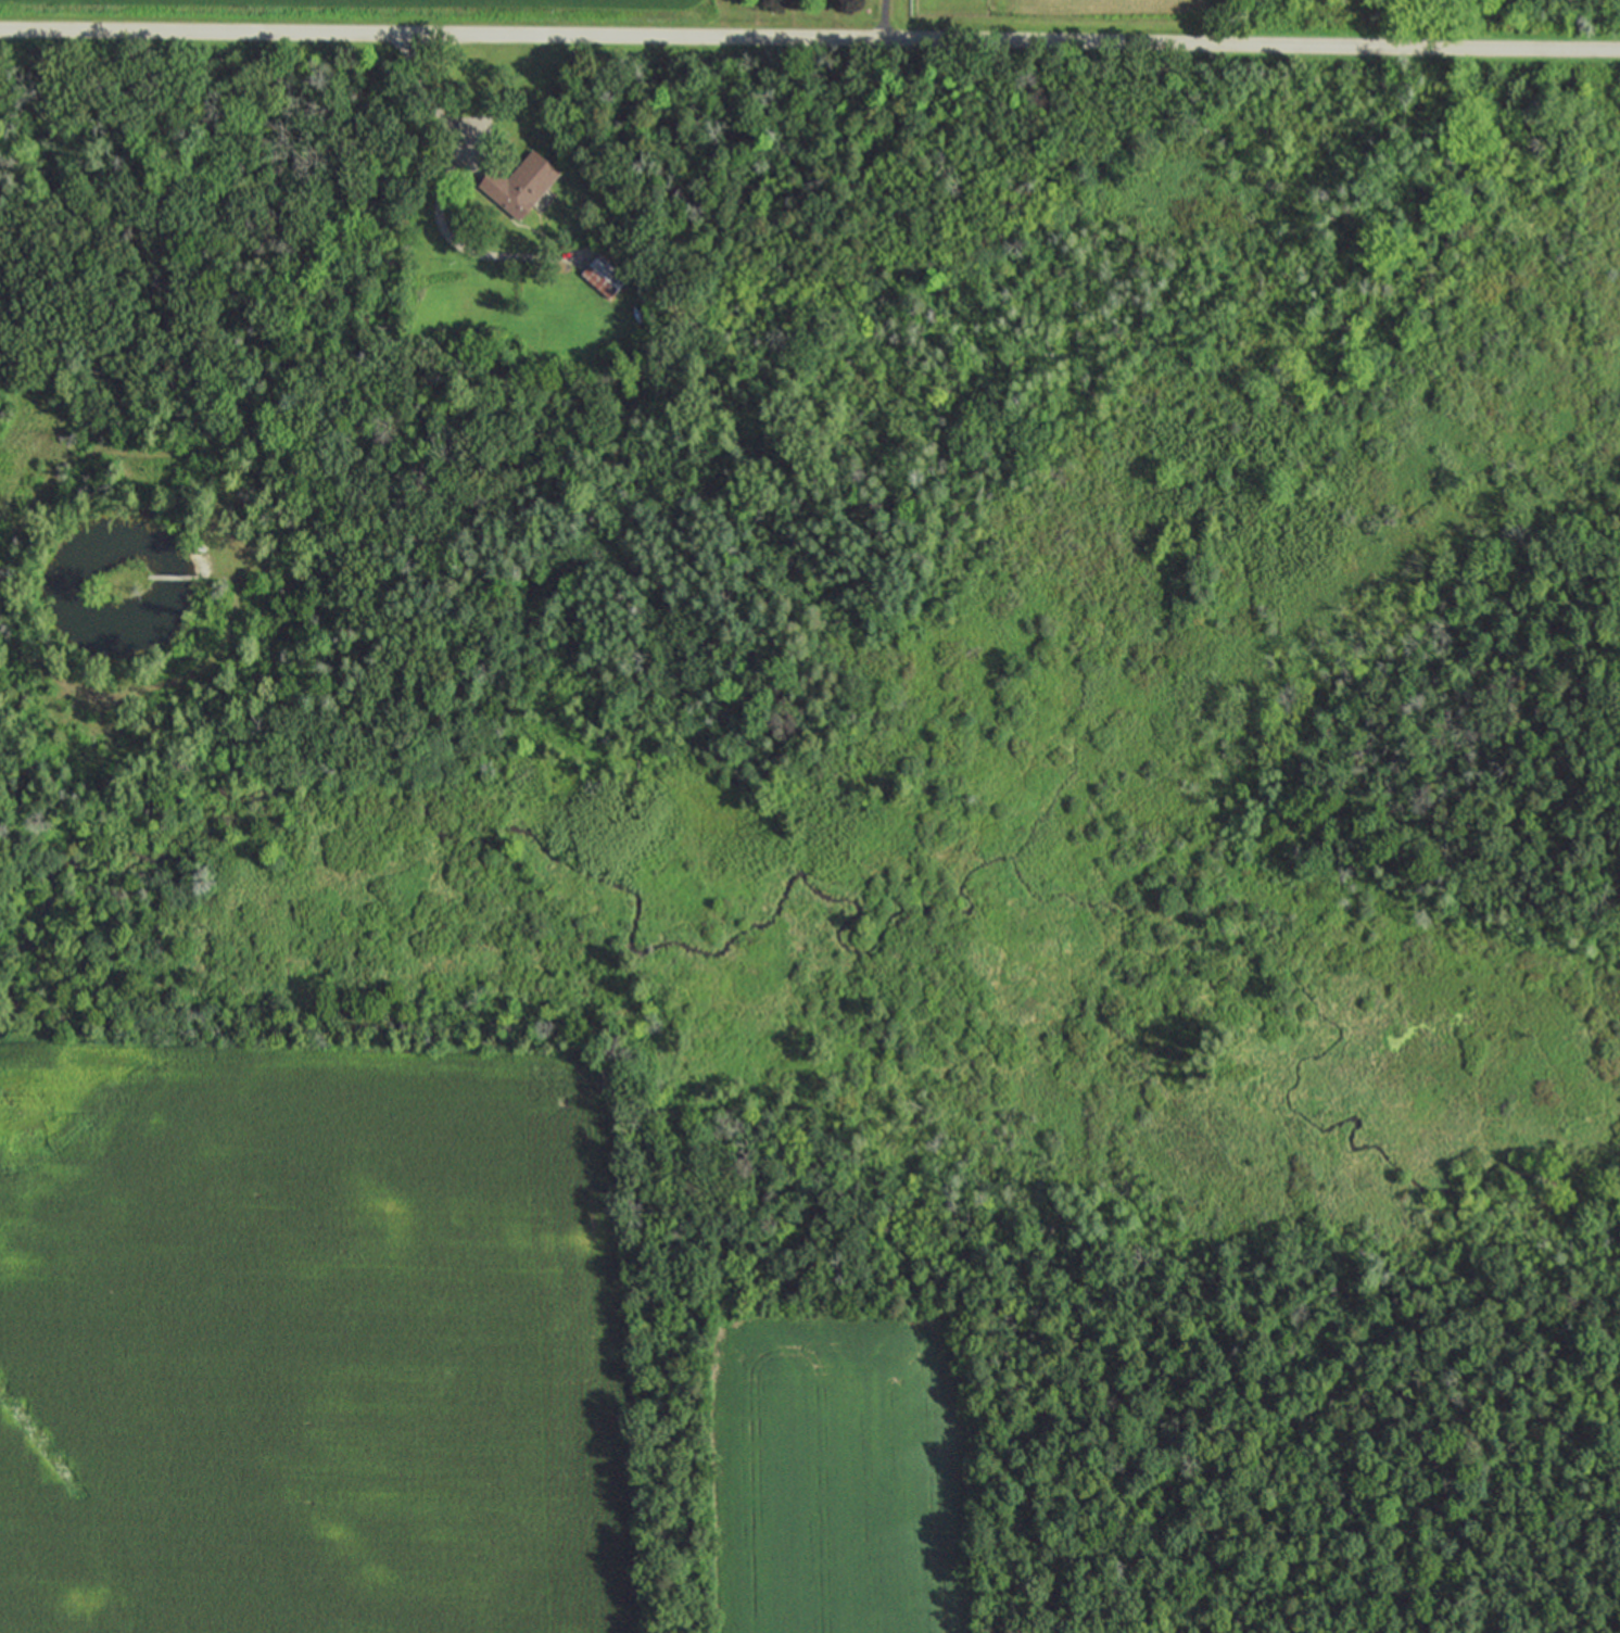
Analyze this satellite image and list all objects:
road: (810, 37)
building: (519, 185)
road: (440, 197)
building: (602, 277)
road: (282, 381)
road: (172, 577)

